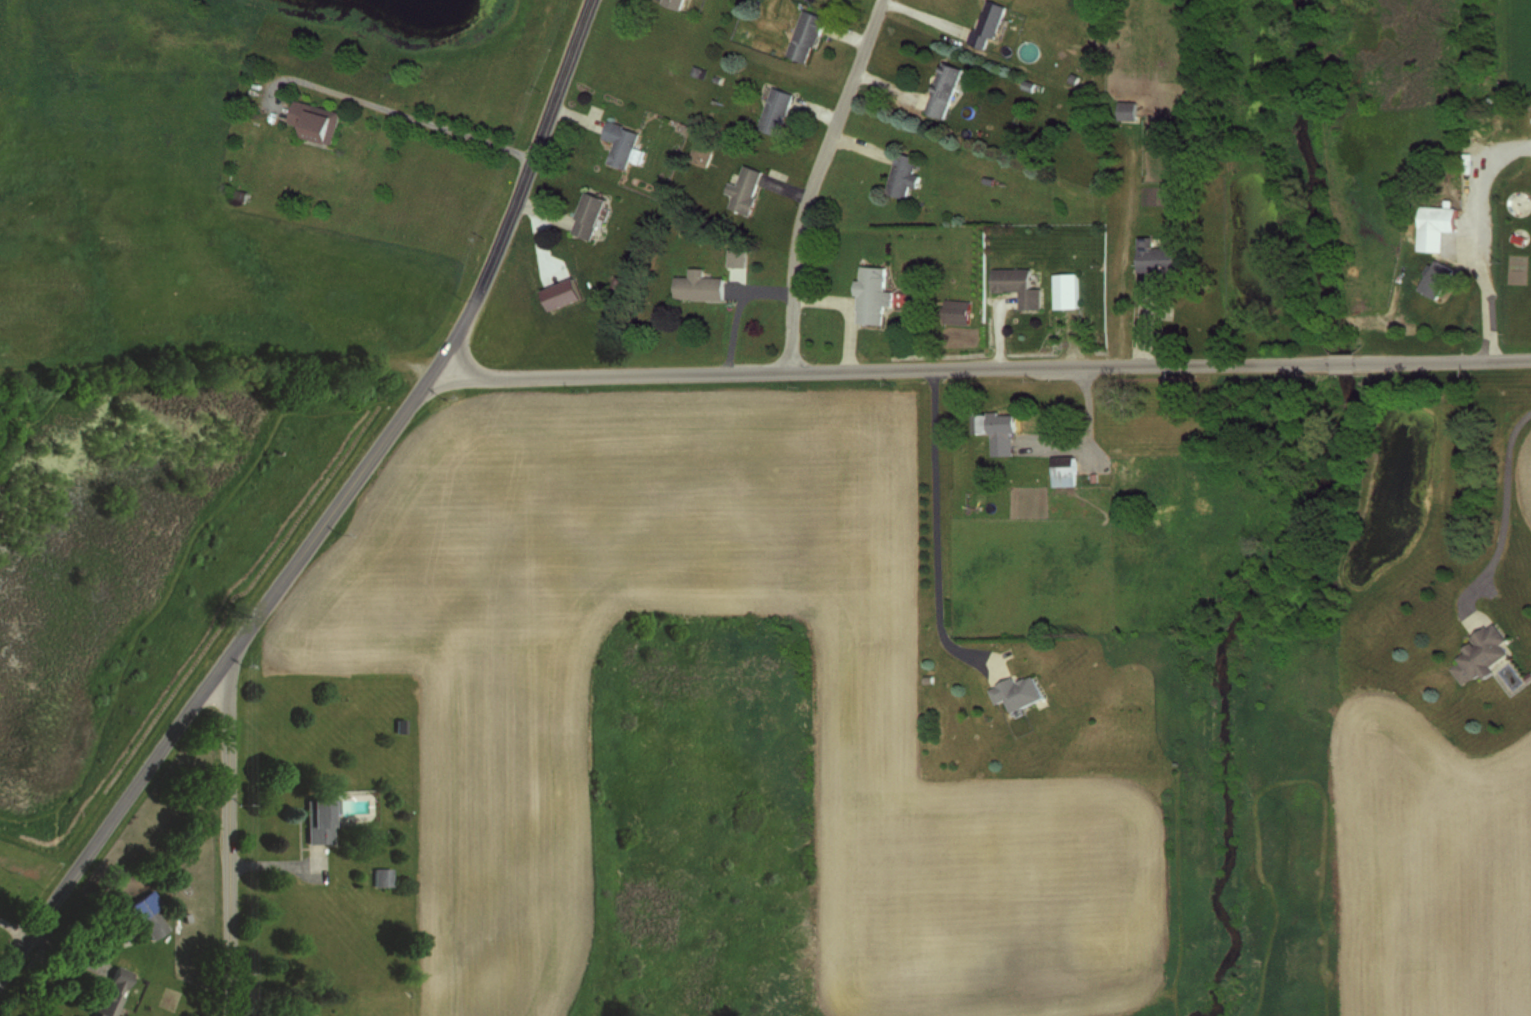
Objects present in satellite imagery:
building: (671, 3)
building: (986, 24)
building: (804, 36)
building: (1028, 86)
building: (941, 90)
road: (388, 109)
building: (1127, 110)
building: (774, 112)
building: (313, 122)
building: (618, 144)
building: (699, 156)
building: (901, 175)
road: (815, 179)
building: (743, 189)
building: (1515, 204)
building: (586, 216)
building: (1433, 226)
building: (1157, 256)
building: (1434, 279)
road: (1483, 282)
building: (696, 287)
building: (1016, 287)
building: (1064, 291)
building: (869, 295)
building: (954, 311)
road: (1441, 357)
road: (442, 358)
road: (1340, 359)
road: (881, 367)
building: (994, 430)
road: (1087, 431)
building: (1062, 471)
crop: (1526, 481)
road: (1507, 511)
road: (936, 526)
building: (1478, 653)
building: (1014, 692)
building: (398, 726)
building: (314, 820)
road: (107, 824)
road: (229, 844)
crop: (1432, 868)
building: (379, 876)
building: (151, 923)
building: (107, 991)

